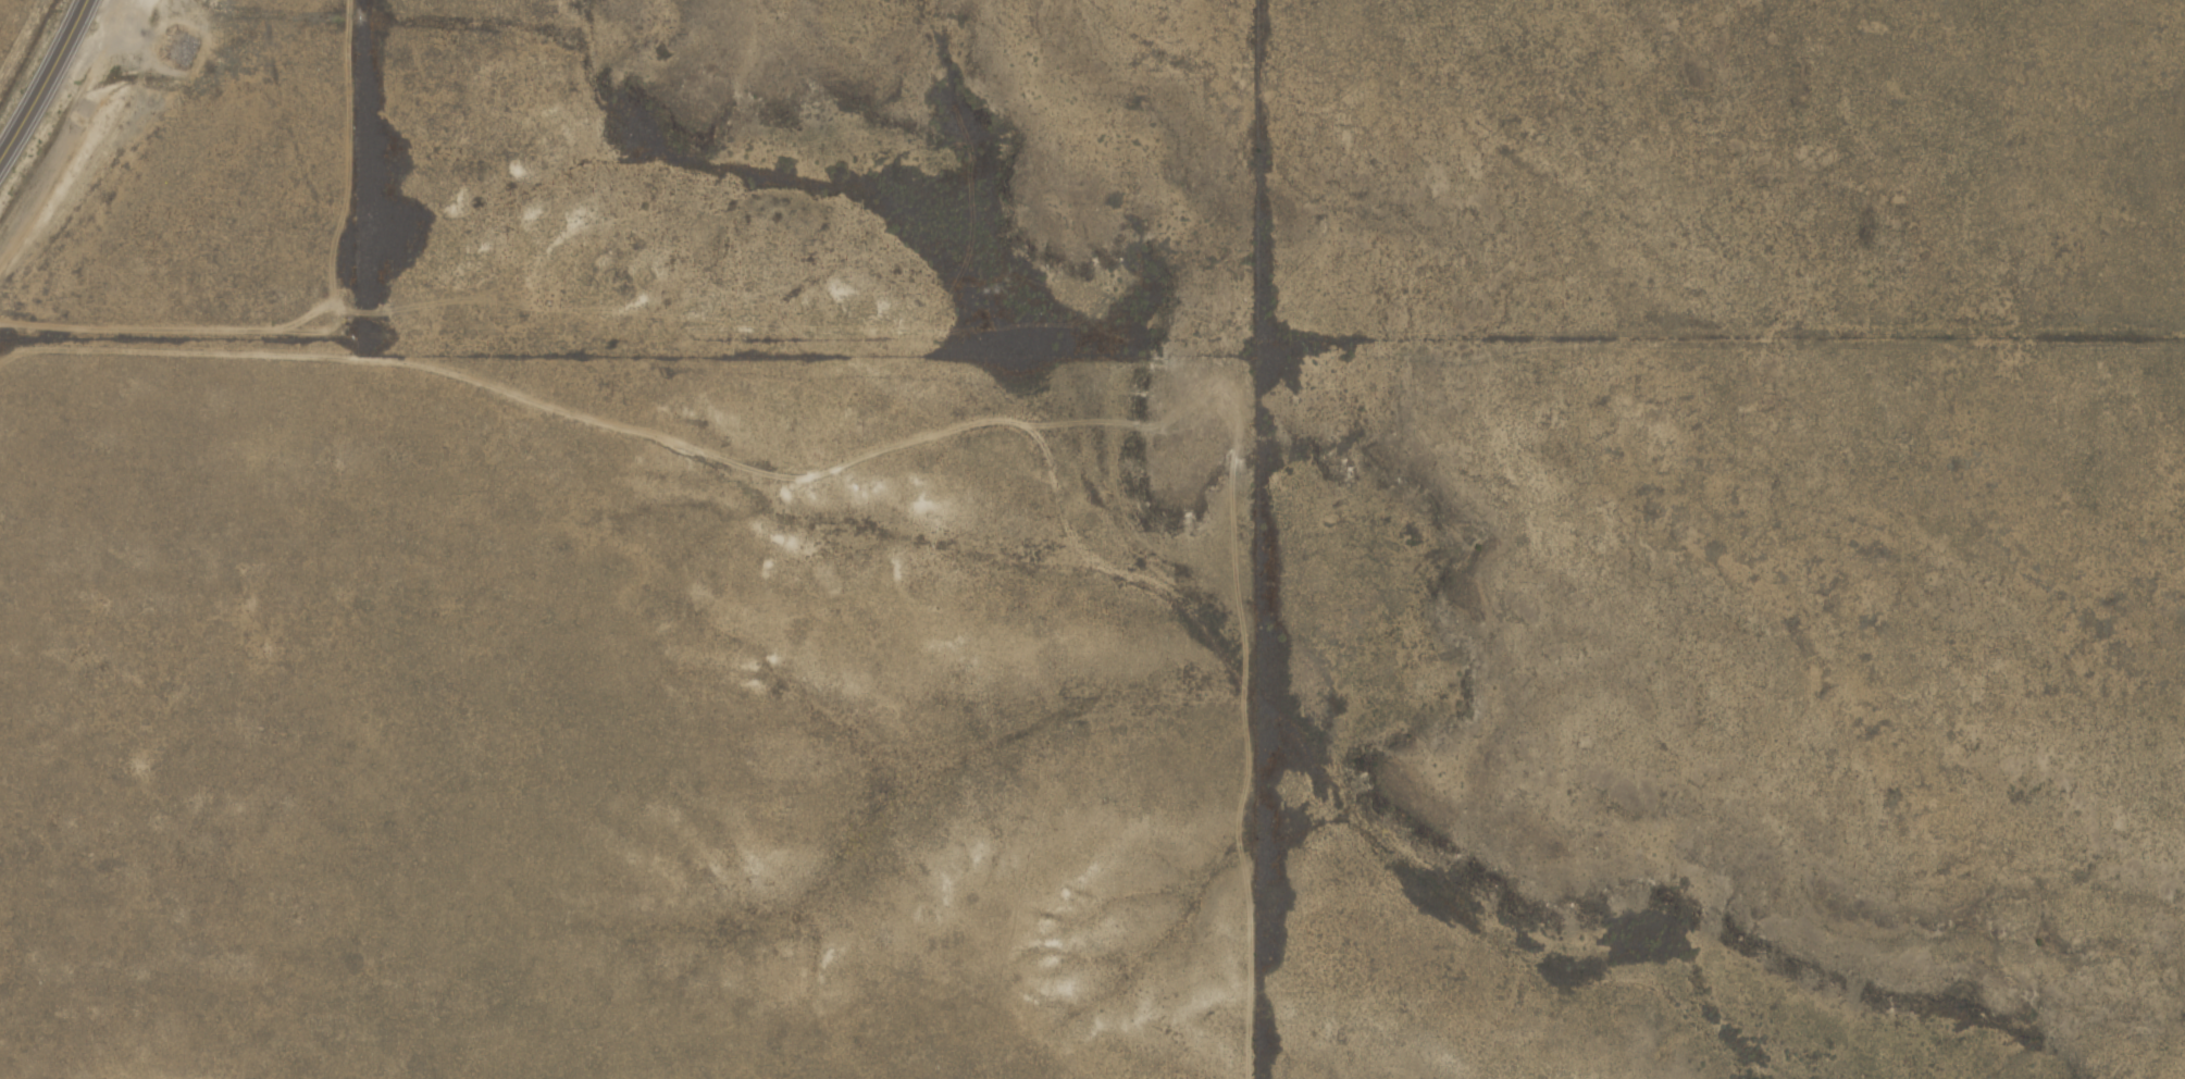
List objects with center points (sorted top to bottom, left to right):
airport: (16, 29)
road: (36, 64)

